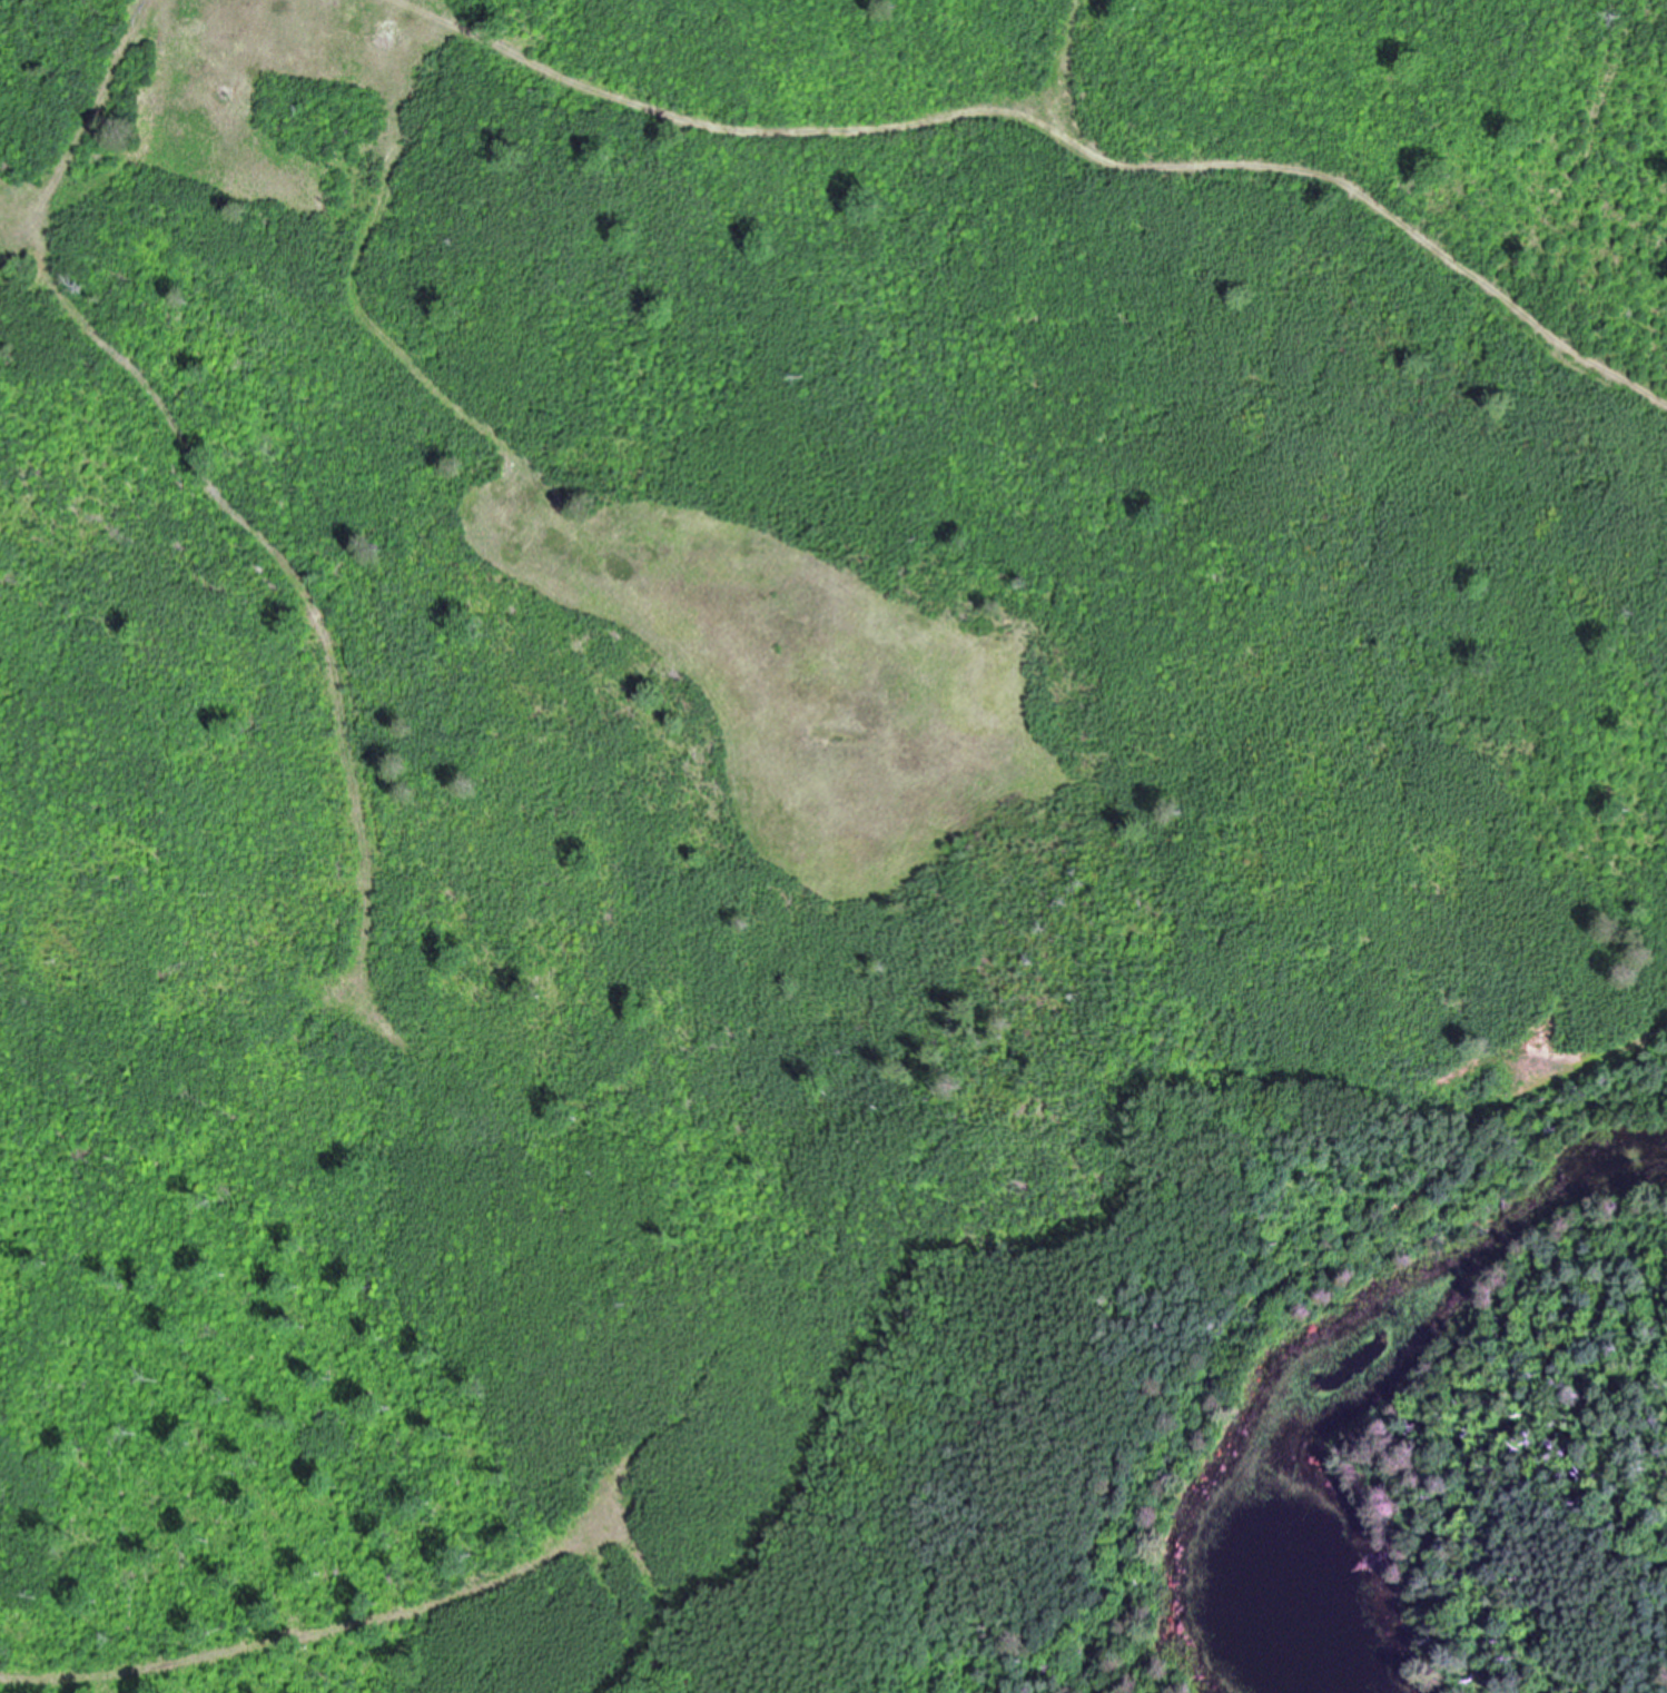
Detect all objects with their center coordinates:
road: (1338, 184)
road: (1269, 1294)

